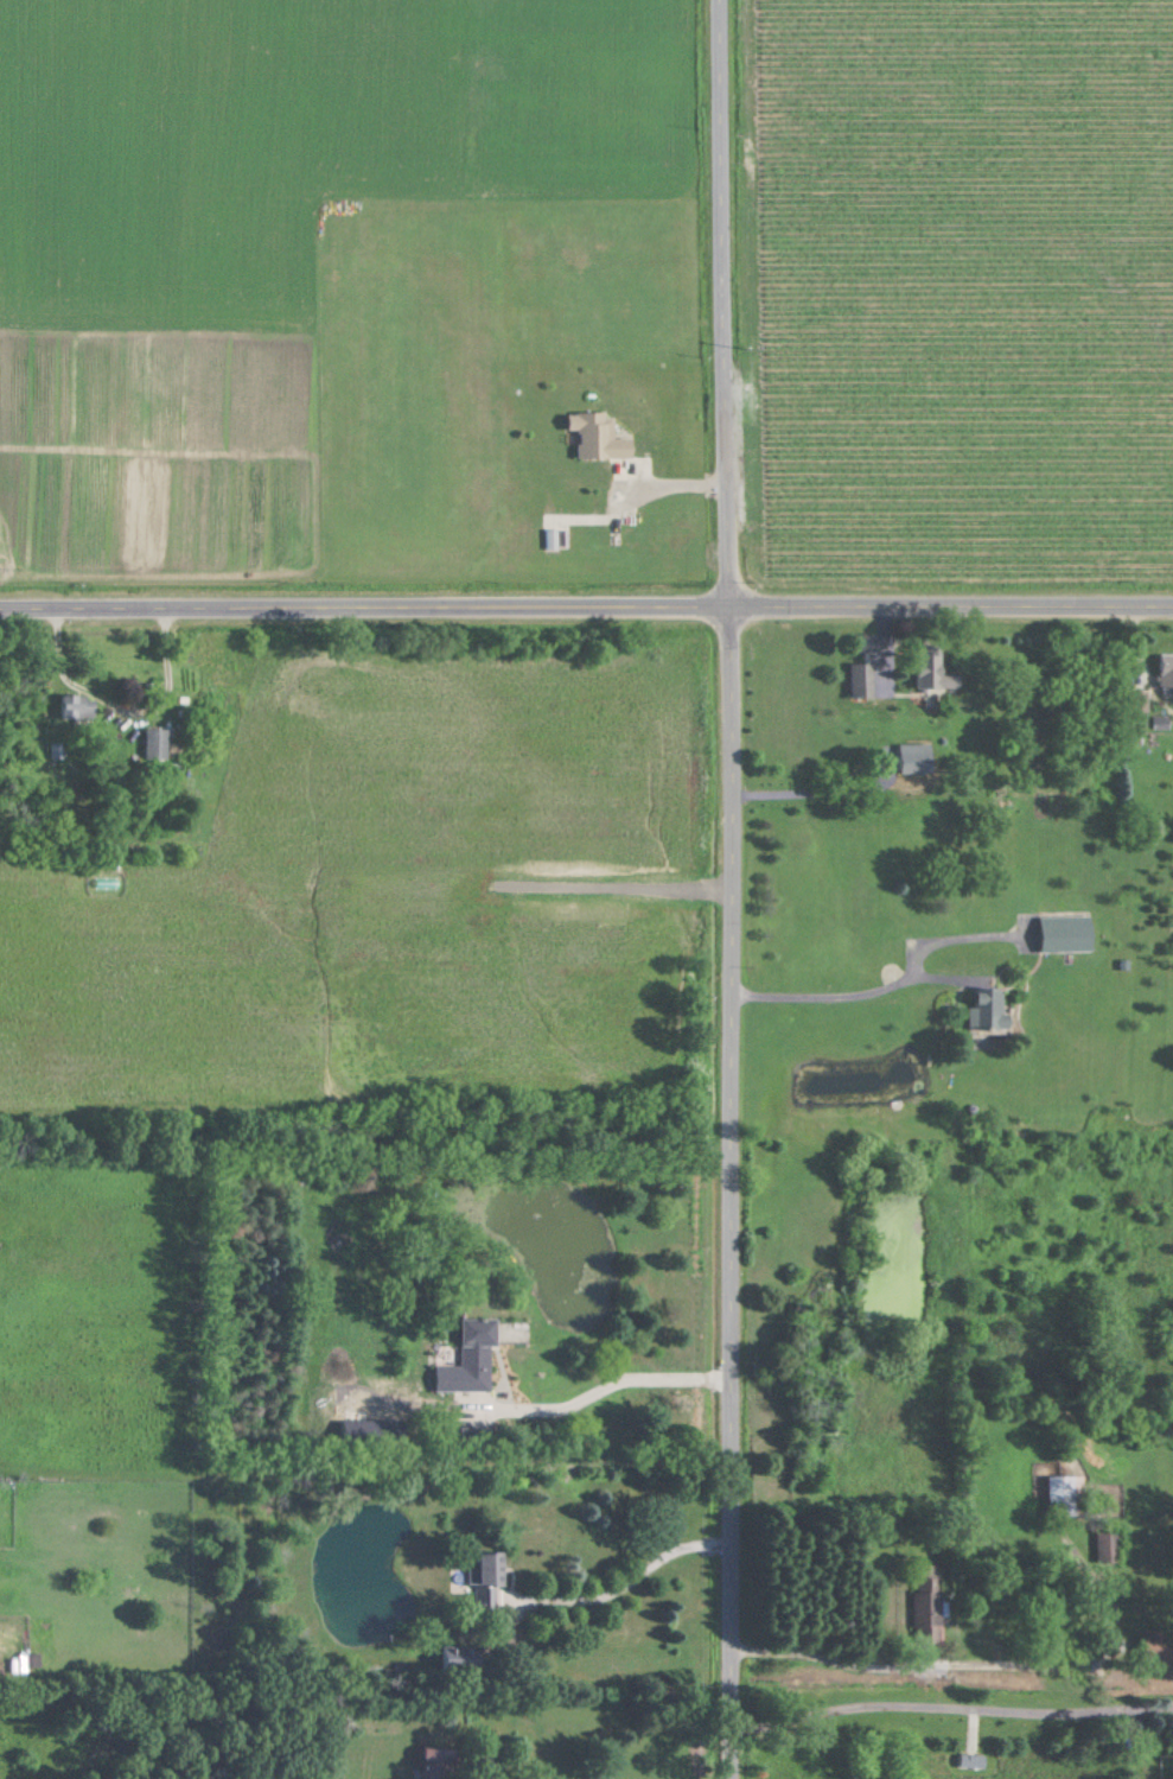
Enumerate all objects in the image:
road: (731, 301)
building: (600, 436)
road: (366, 602)
road: (954, 603)
building: (861, 642)
building: (930, 669)
building: (1164, 672)
building: (861, 679)
building: (1136, 699)
road: (119, 704)
building: (155, 743)
building: (914, 757)
building: (1064, 932)
road: (892, 996)
building: (989, 1008)
road: (733, 1190)
building: (478, 1351)
road: (599, 1392)
building: (1065, 1495)
building: (1107, 1548)
building: (489, 1569)
road: (620, 1597)
building: (926, 1602)
building: (1156, 1645)
building: (460, 1658)
road: (957, 1675)
road: (950, 1720)

